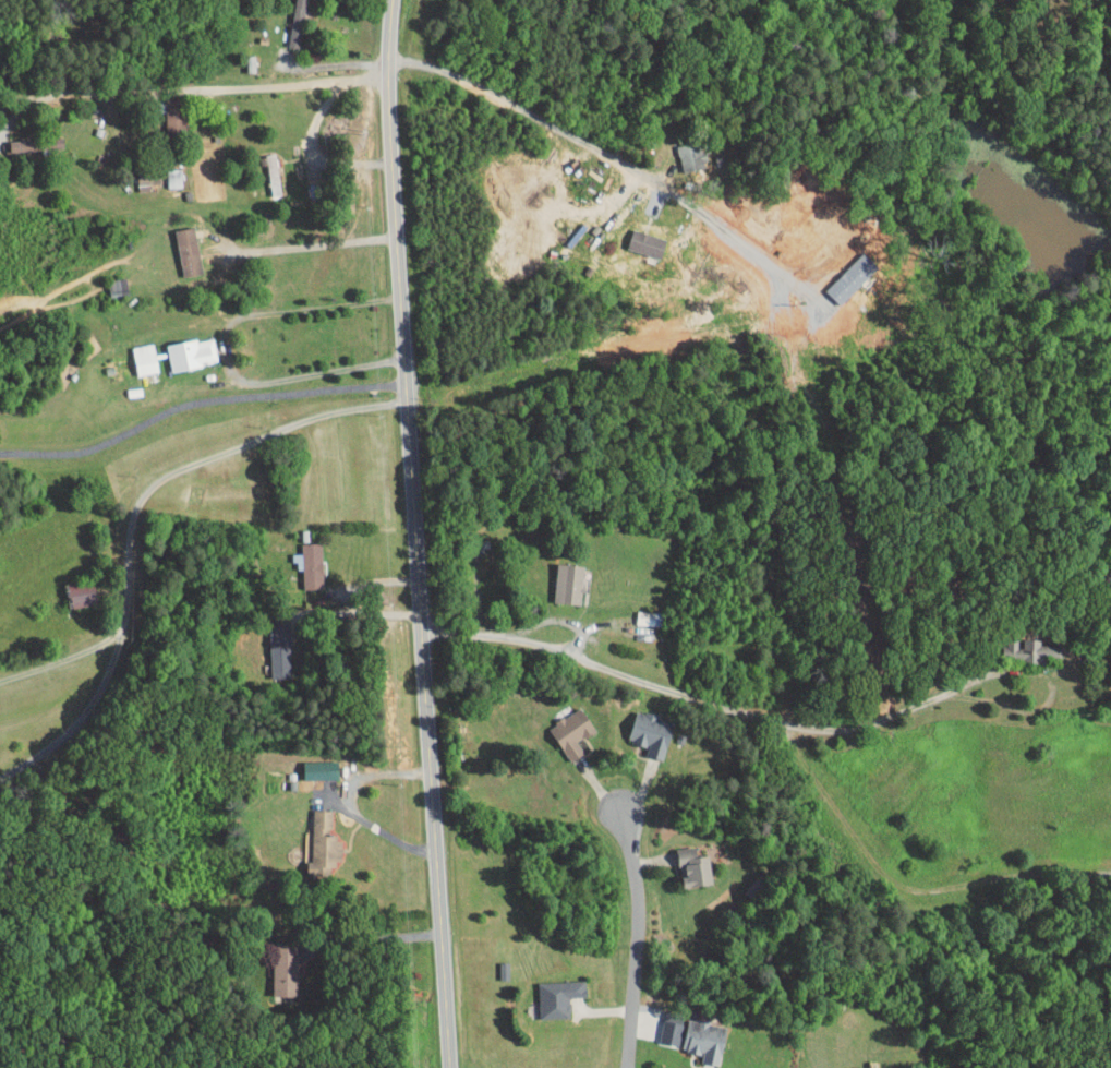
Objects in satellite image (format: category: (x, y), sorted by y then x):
building: (286, 20)
road: (194, 89)
building: (14, 139)
building: (679, 149)
road: (311, 153)
building: (262, 168)
building: (162, 171)
building: (134, 172)
road: (661, 183)
building: (635, 237)
road: (314, 243)
building: (177, 245)
building: (840, 272)
building: (181, 348)
road: (230, 348)
building: (134, 352)
road: (197, 400)
road: (204, 460)
road: (414, 533)
building: (299, 557)
building: (557, 576)
building: (70, 586)
road: (357, 613)
building: (268, 641)
building: (1022, 643)
road: (61, 657)
road: (690, 697)
road: (77, 719)
building: (561, 725)
building: (640, 727)
building: (310, 763)
road: (350, 803)
building: (312, 837)
building: (684, 860)
road: (901, 884)
road: (371, 938)
road: (635, 938)
building: (274, 962)
building: (547, 989)
building: (661, 1023)
building: (693, 1033)
building: (865, 1065)

